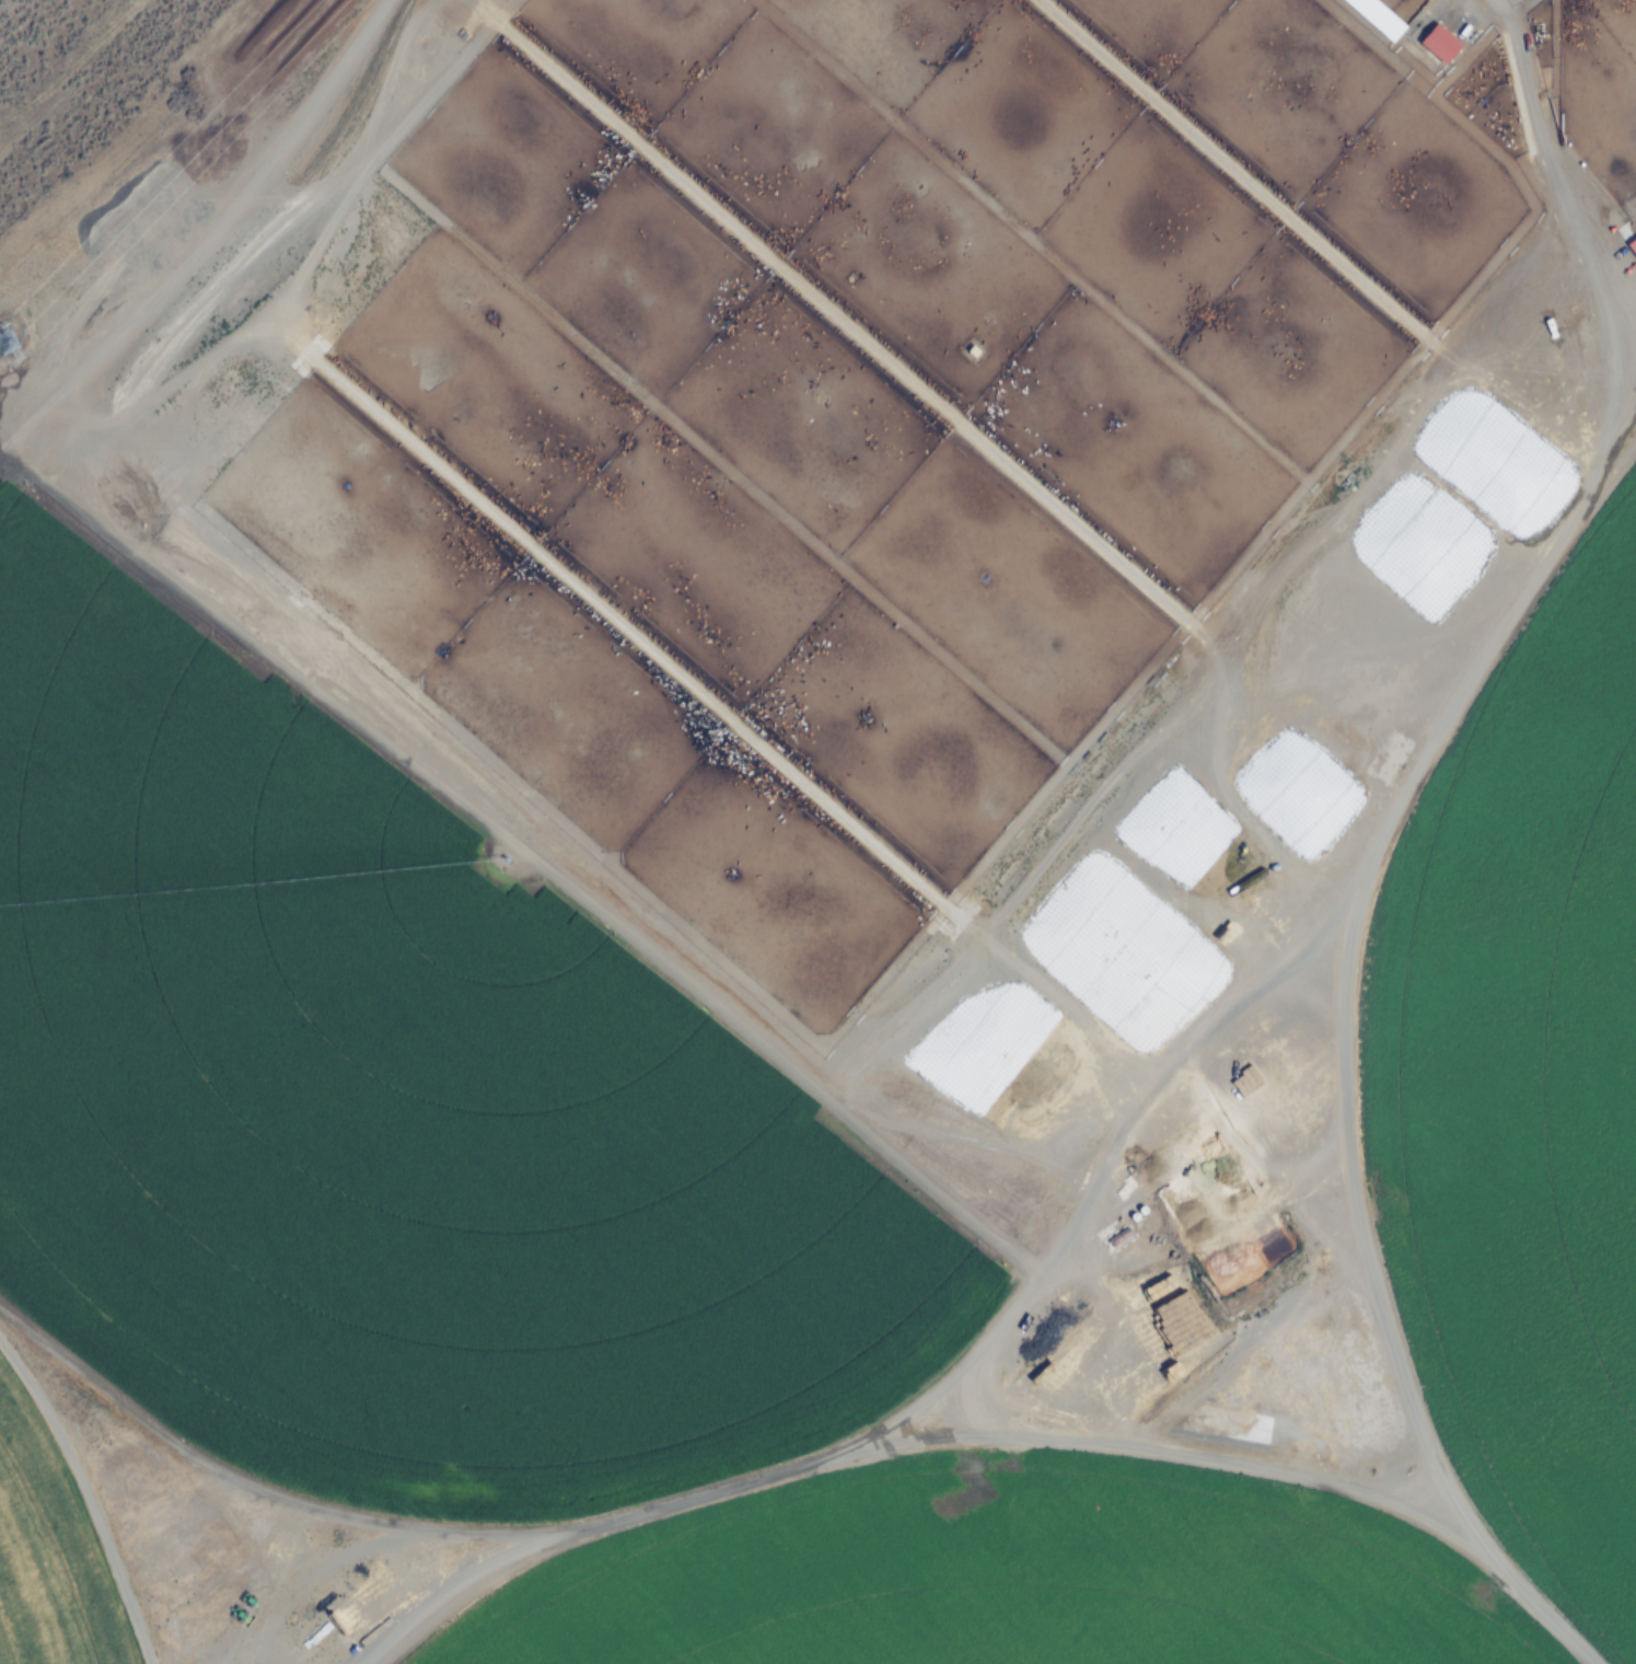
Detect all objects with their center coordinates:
building: (1632, 247)
power tower: (9, 346)

